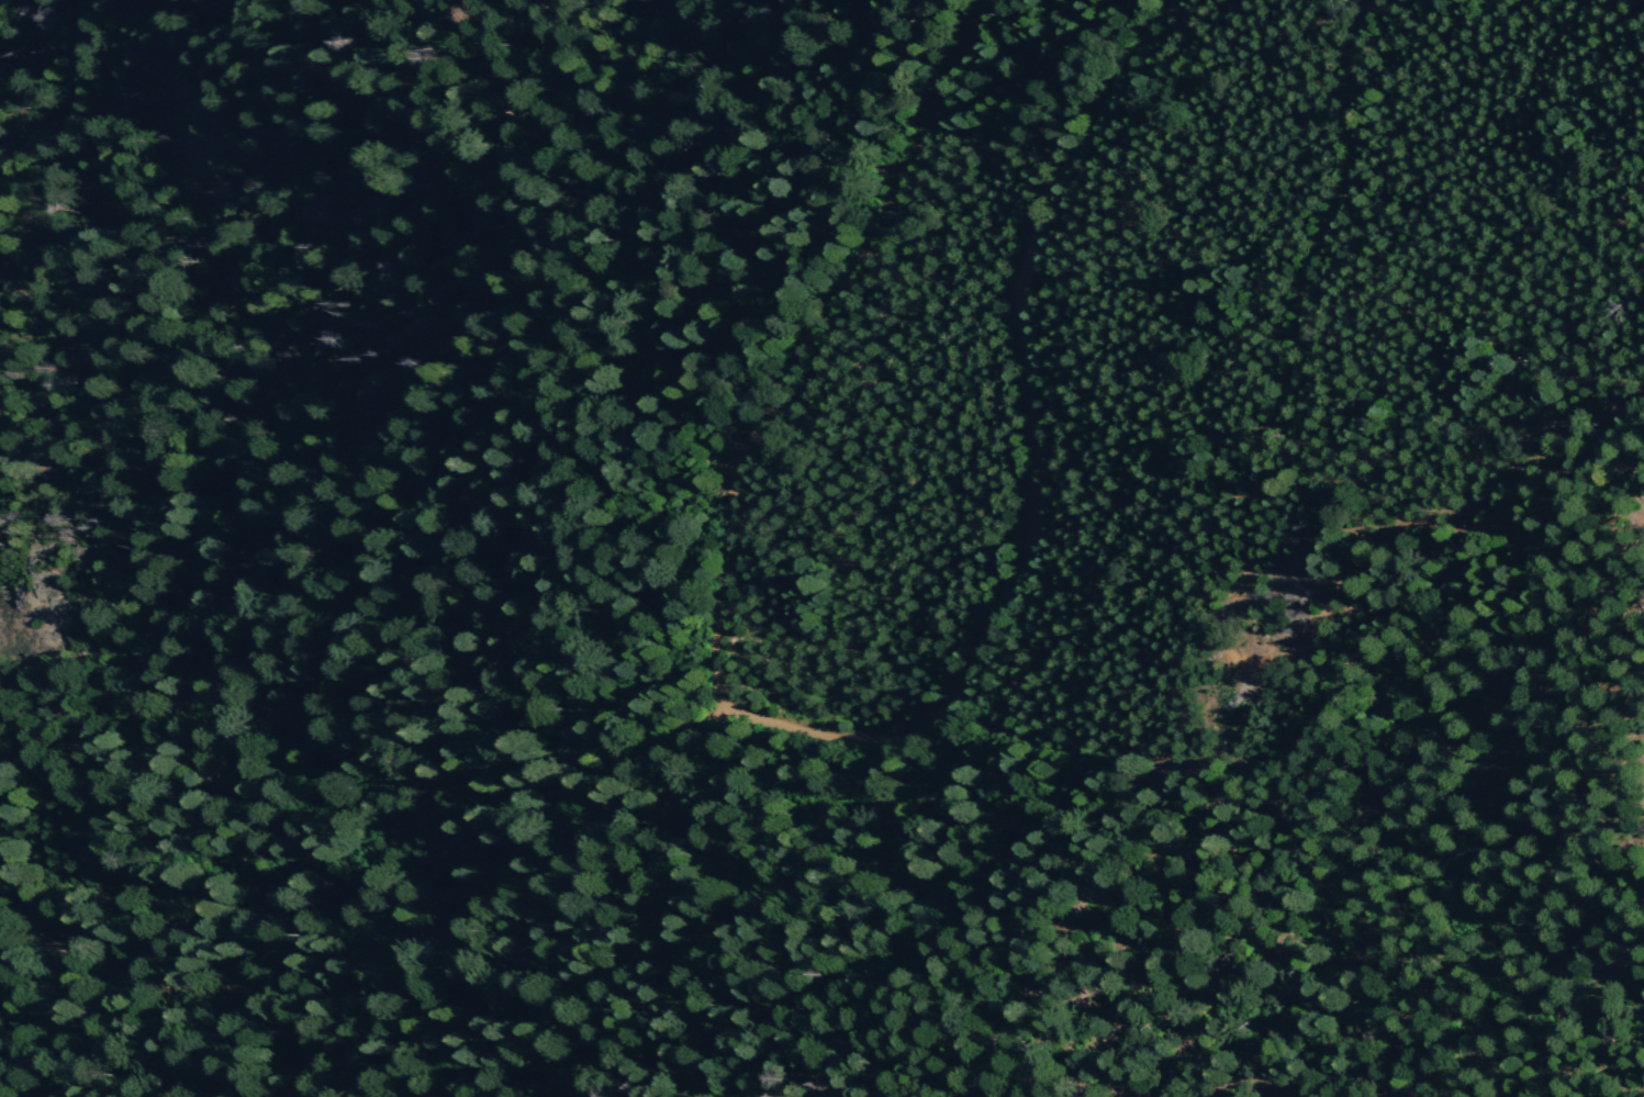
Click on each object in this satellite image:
road: (805, 350)
road: (820, 735)

